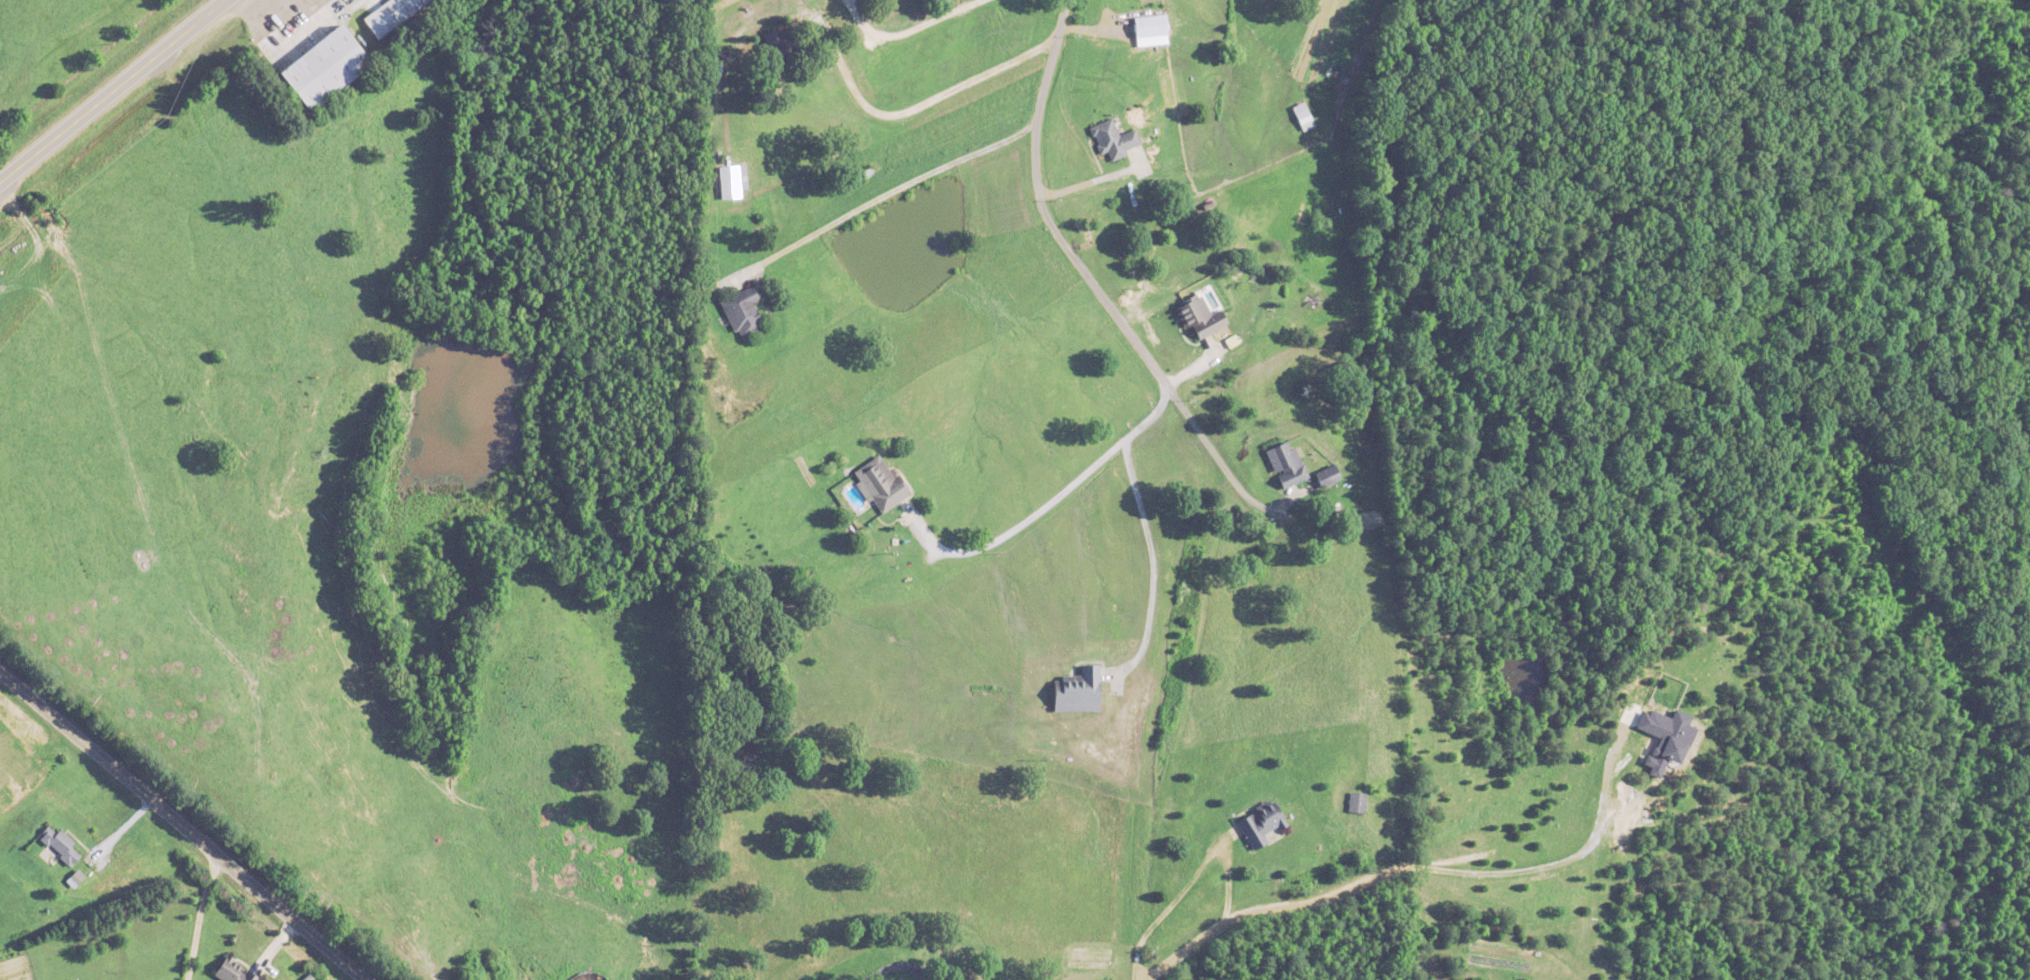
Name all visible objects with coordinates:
building: (392, 14)
road: (905, 27)
building: (777, 48)
building: (326, 67)
road: (111, 91)
road: (913, 106)
building: (1303, 115)
building: (1113, 139)
building: (732, 181)
road: (1090, 181)
road: (870, 198)
road: (1041, 211)
building: (742, 312)
building: (1200, 316)
building: (1287, 464)
road: (1223, 470)
building: (1328, 476)
building: (880, 483)
road: (1037, 511)
road: (1149, 569)
building: (1078, 690)
building: (1377, 788)
building: (1357, 801)
road: (182, 823)
building: (1260, 823)
building: (59, 844)
road: (201, 917)
road: (1223, 922)
road: (896, 963)
building: (234, 971)
building: (969, 978)

